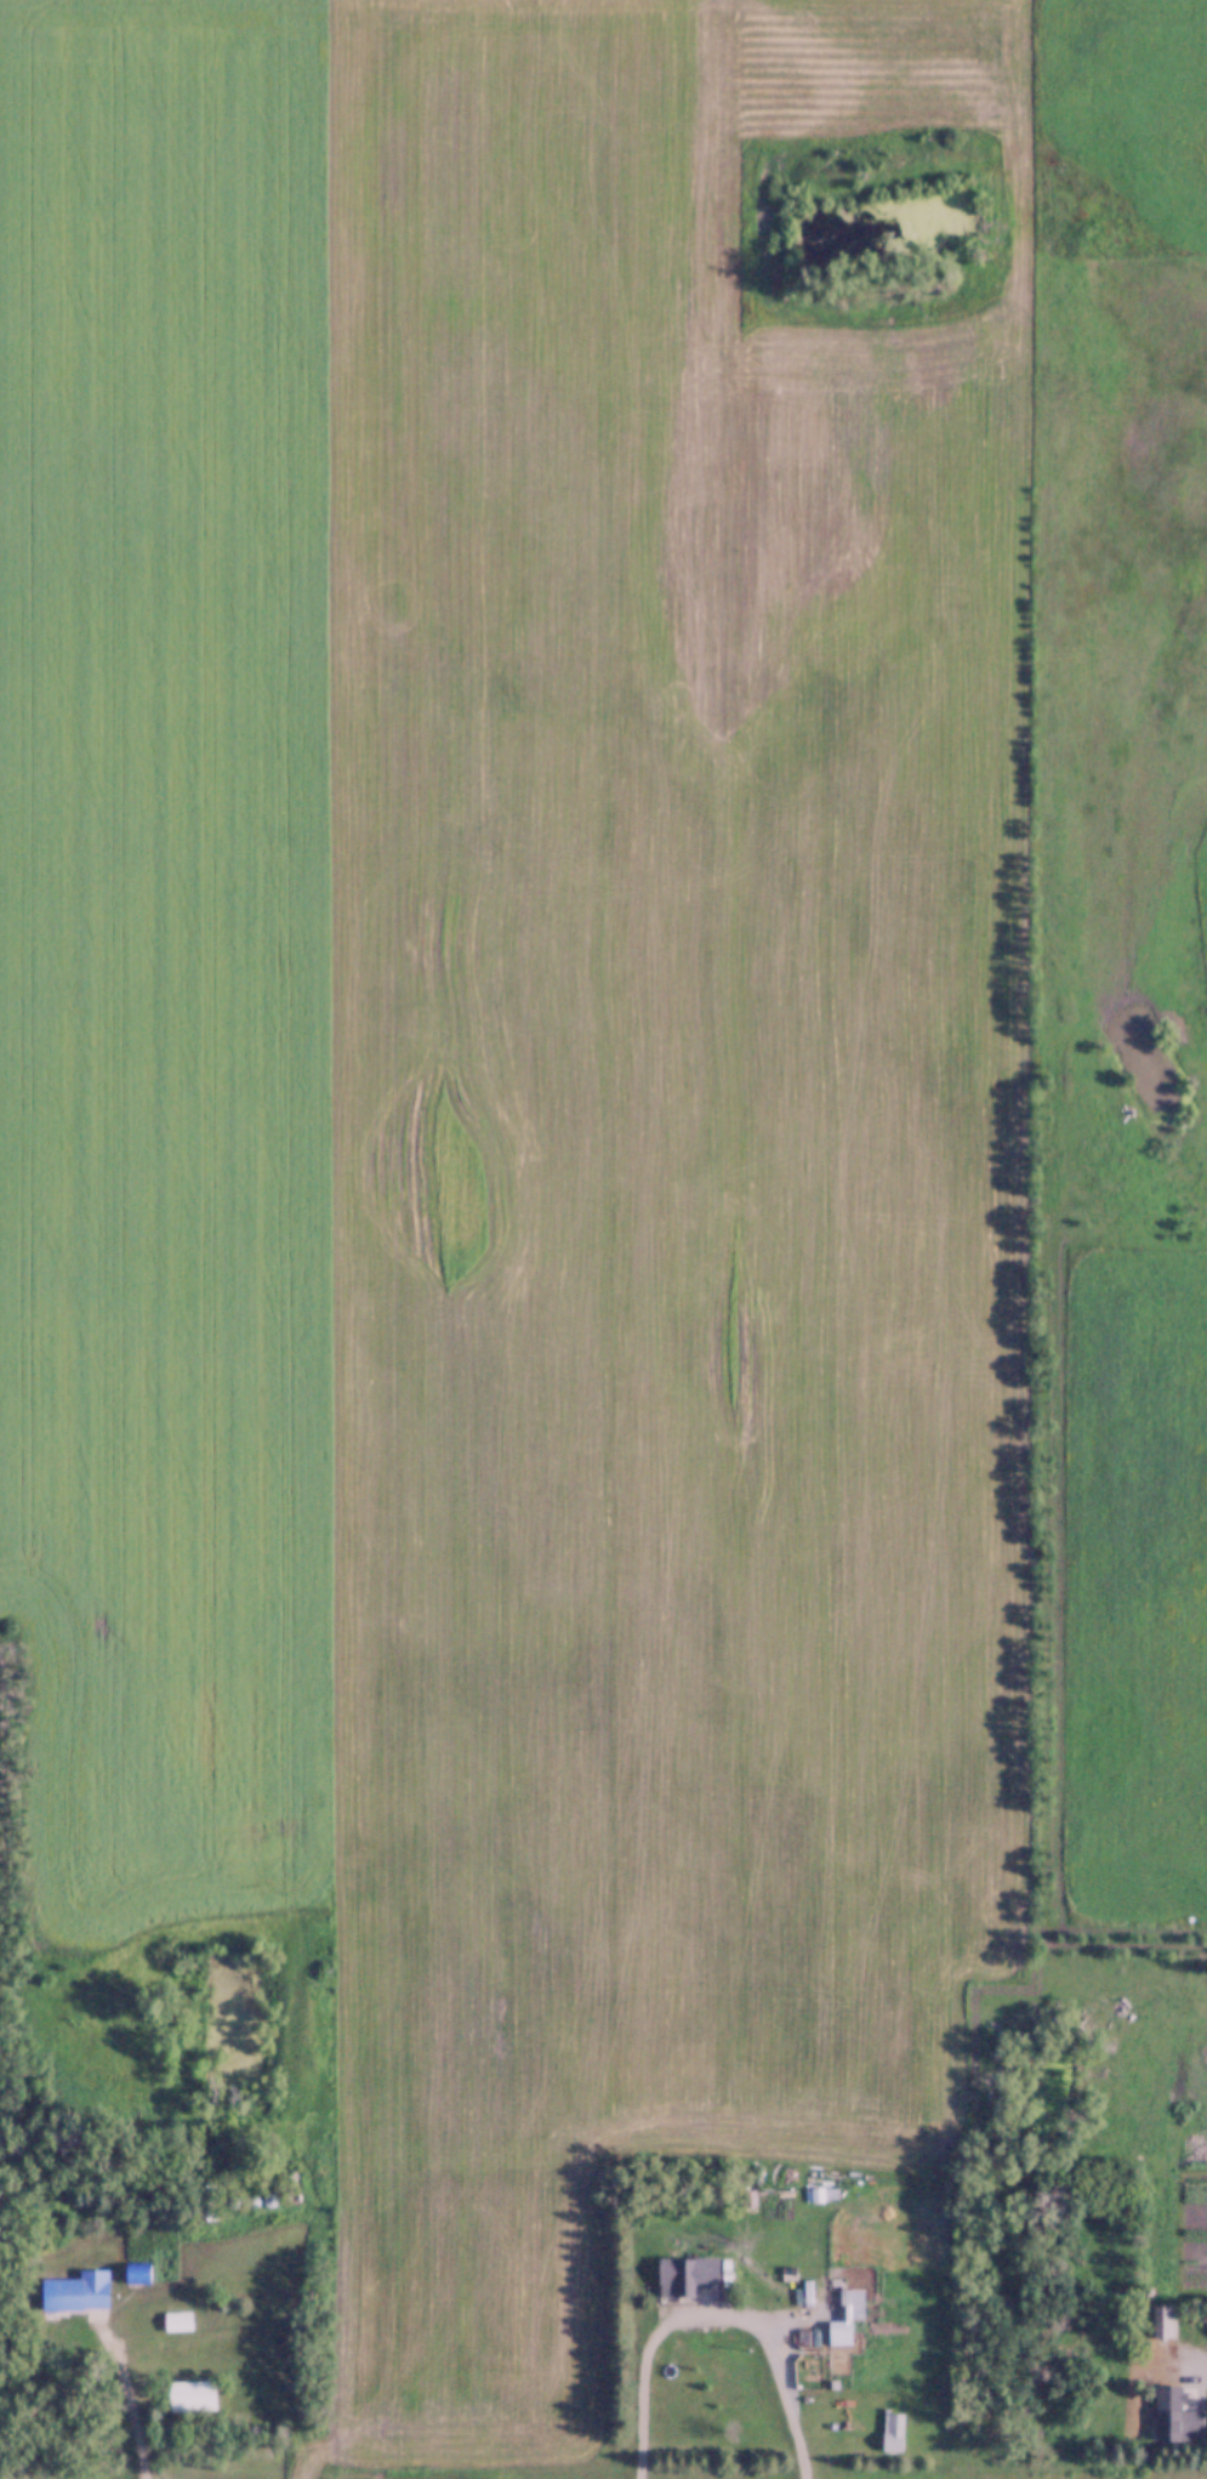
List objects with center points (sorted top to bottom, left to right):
building: (690, 2270)
building: (138, 2273)
building: (79, 2295)
building: (852, 2305)
building: (1162, 2319)
building: (189, 2393)
building: (1174, 2417)
building: (895, 2427)

